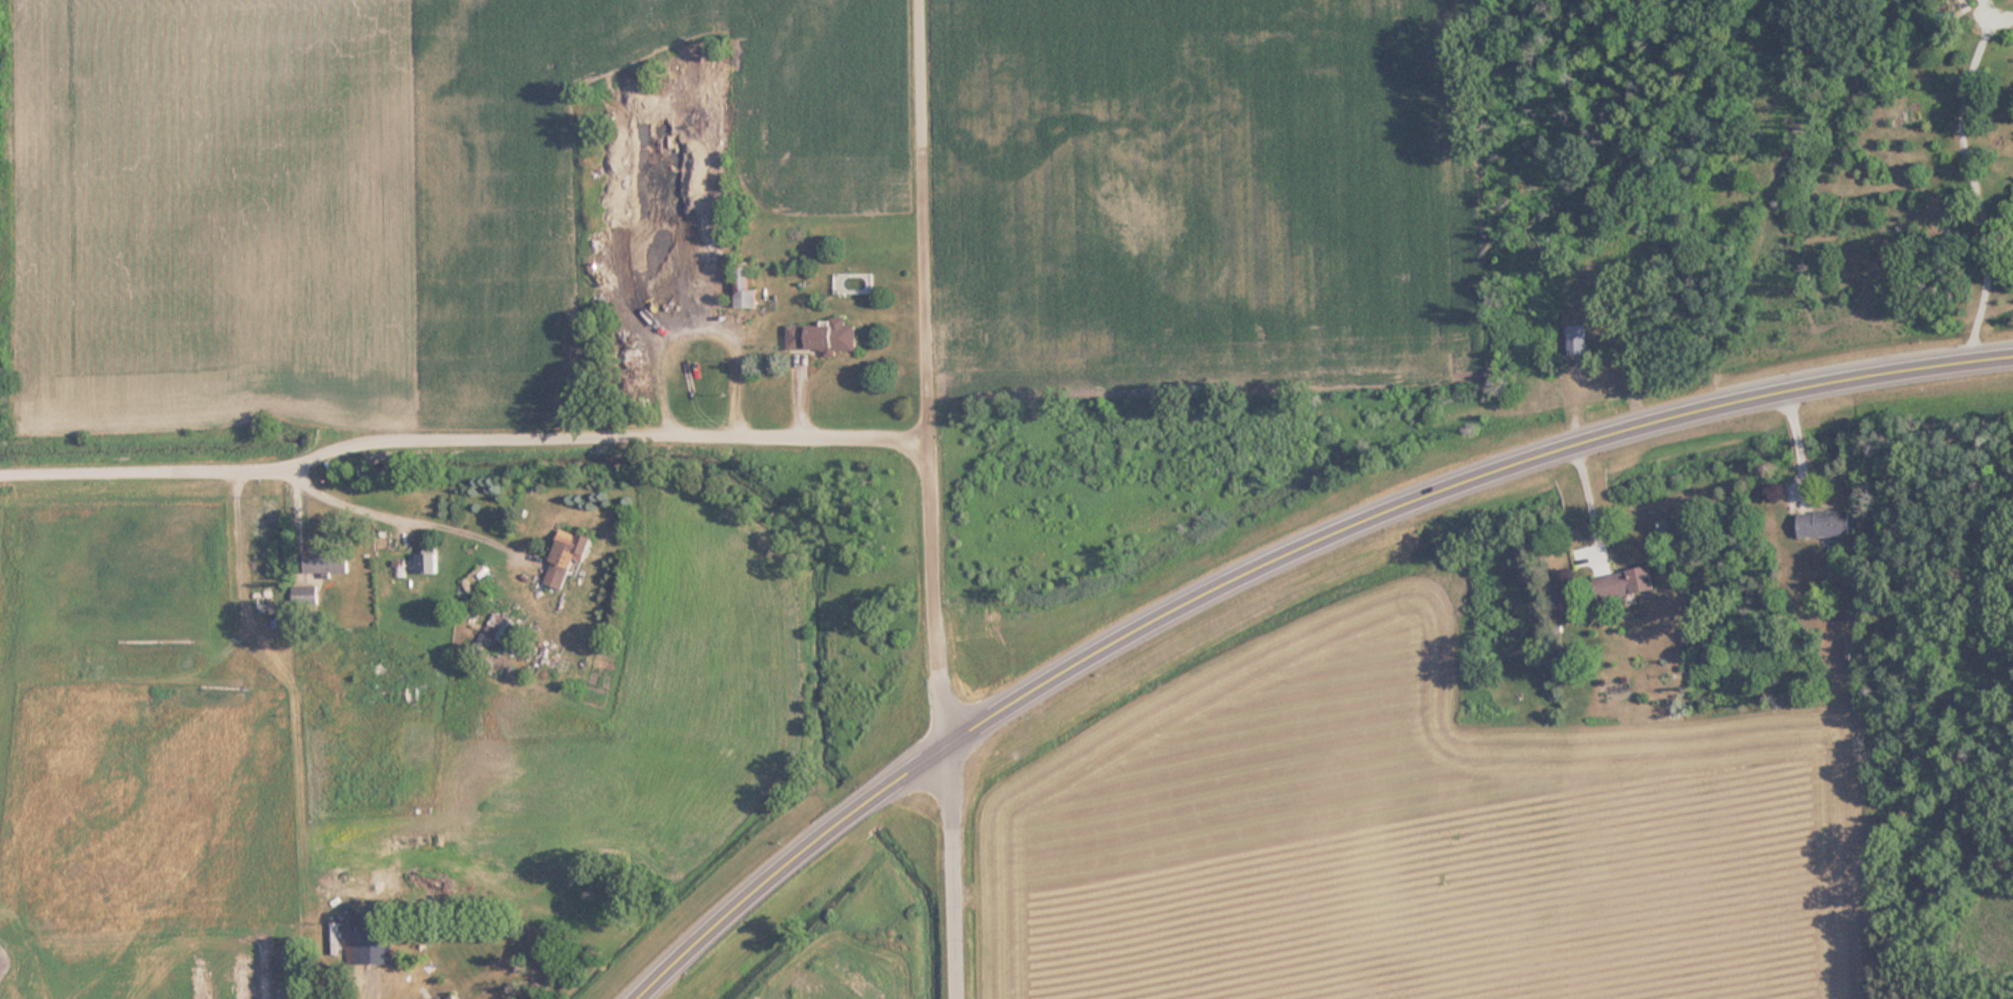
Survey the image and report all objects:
road: (1974, 184)
building: (658, 206)
building: (749, 298)
building: (686, 312)
building: (824, 336)
building: (637, 368)
road: (461, 439)
road: (930, 499)
building: (1824, 522)
building: (566, 556)
road: (1270, 558)
building: (327, 562)
building: (426, 562)
building: (1625, 582)
building: (499, 629)
building: (363, 946)

